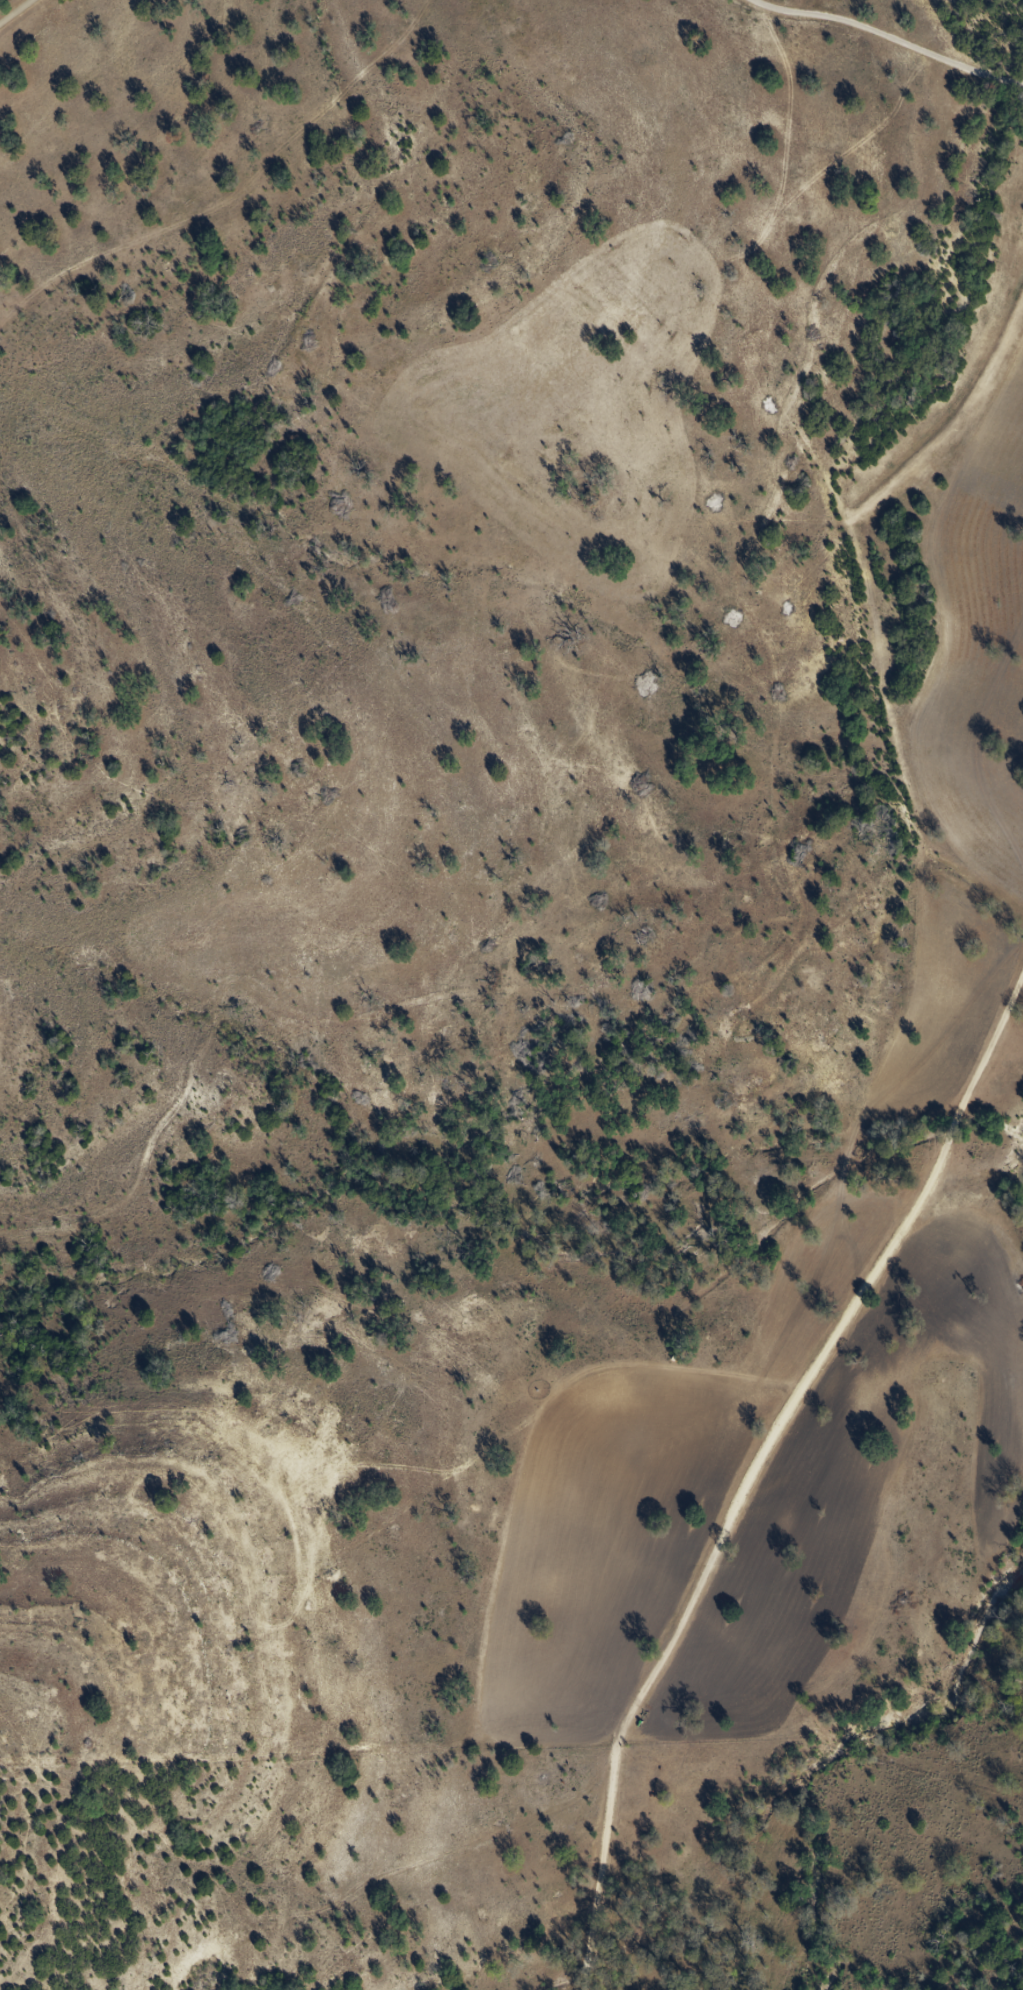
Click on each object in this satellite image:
road: (17, 13)
road: (888, 41)
road: (763, 1470)

